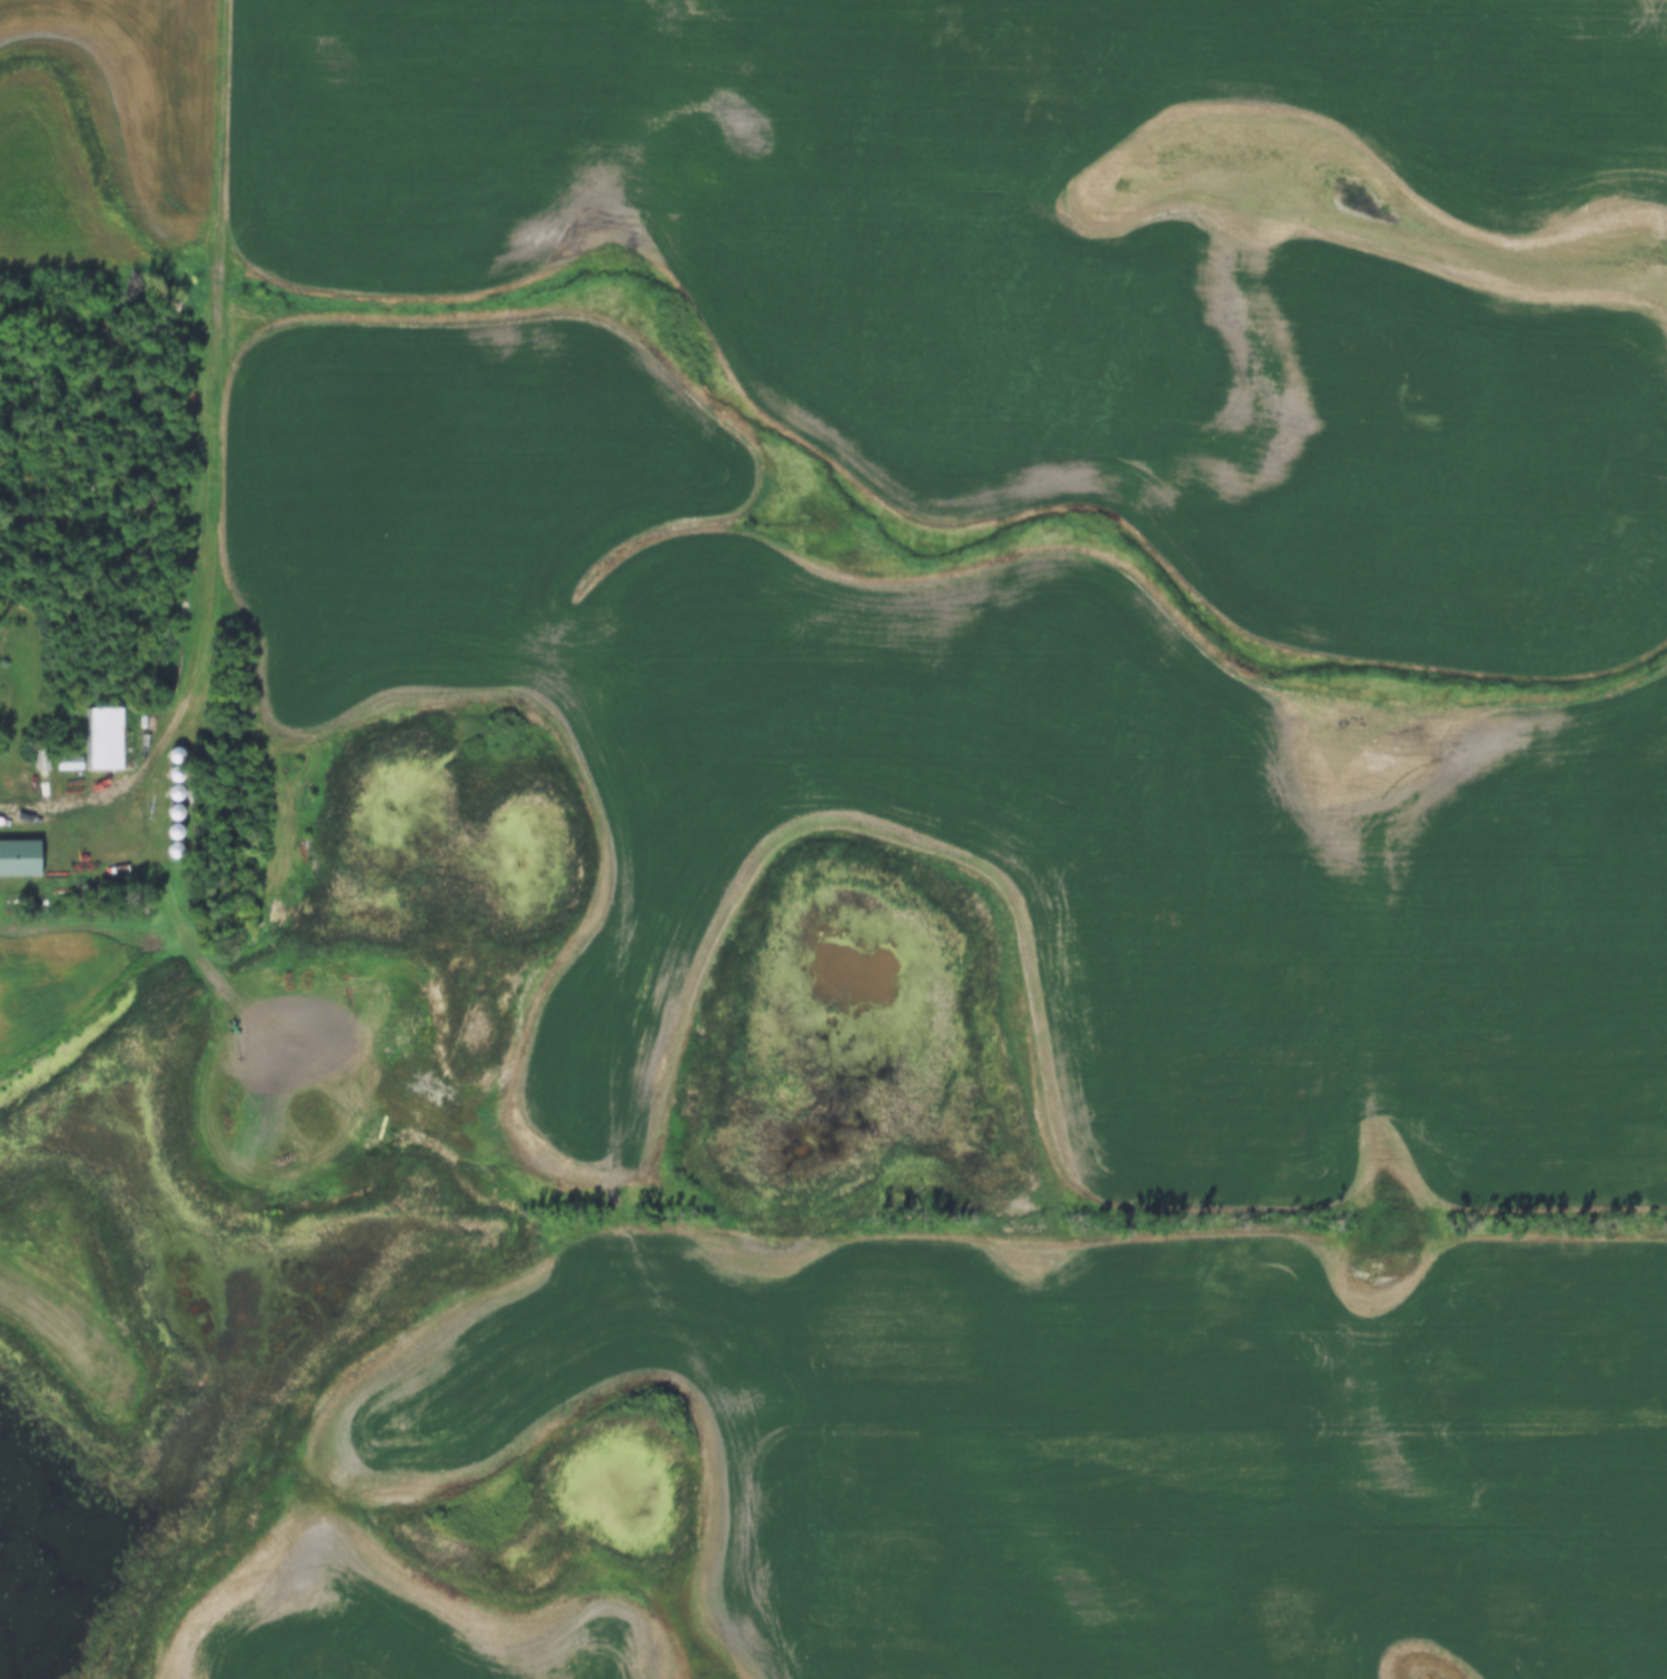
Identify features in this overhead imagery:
road: (217, 410)
building: (107, 738)
building: (42, 761)
building: (70, 764)
road: (60, 811)
building: (19, 856)
road: (516, 1135)

